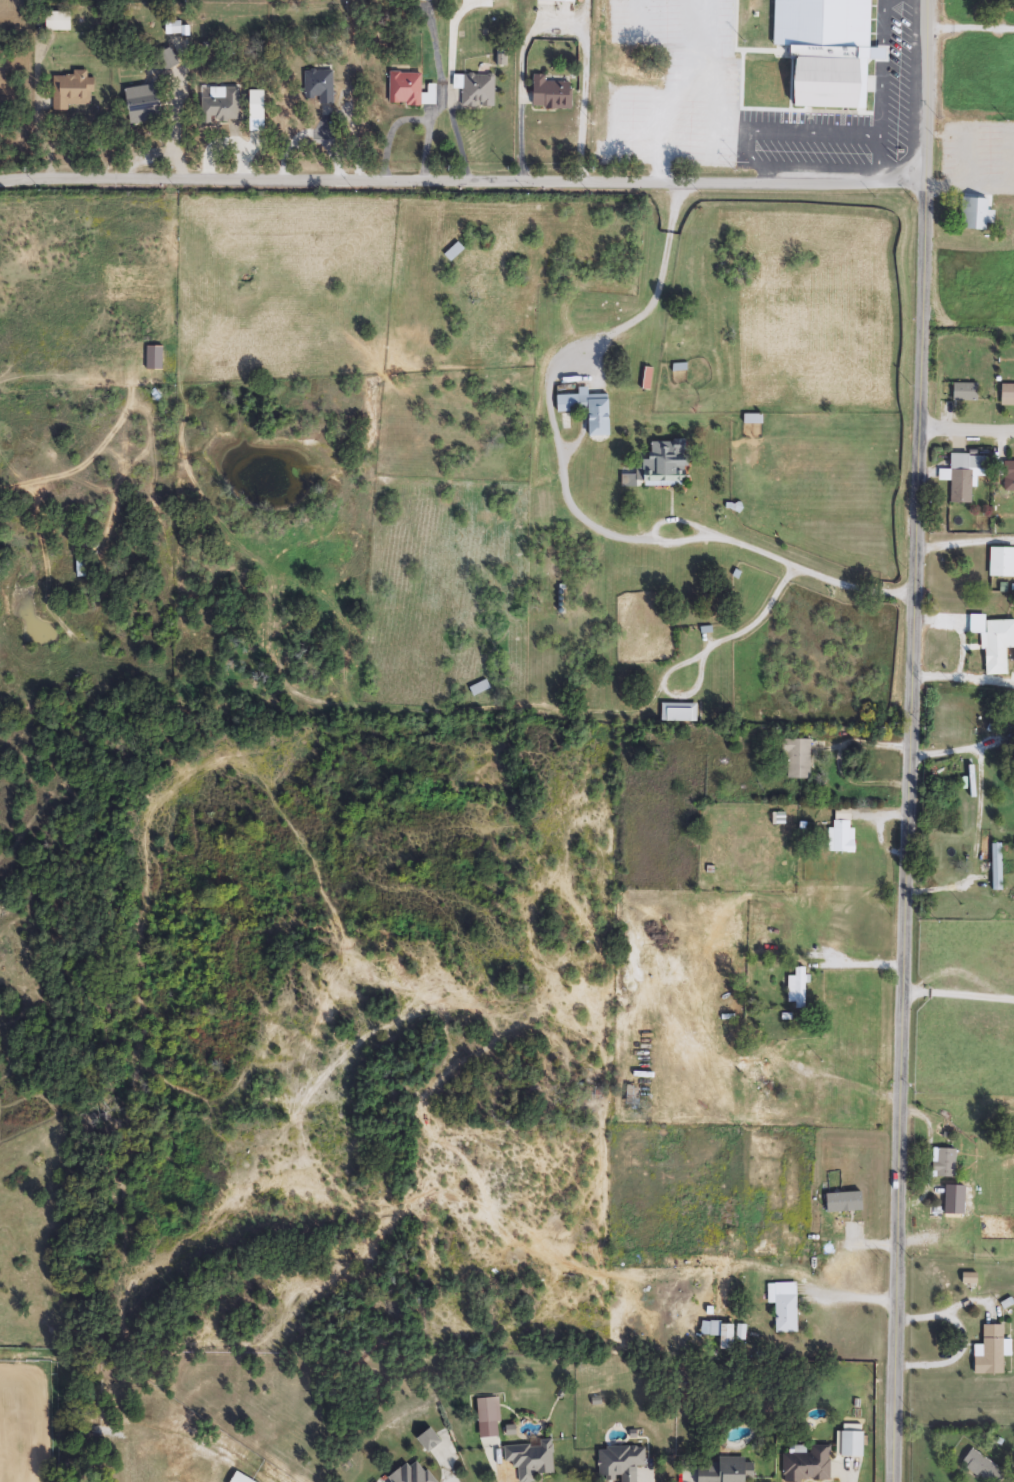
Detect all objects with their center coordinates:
building: (422, 0)
building: (565, 1)
building: (58, 22)
road: (556, 27)
road: (969, 28)
building: (824, 64)
building: (778, 75)
building: (320, 86)
road: (678, 89)
building: (409, 90)
road: (882, 90)
building: (478, 91)
building: (73, 92)
building: (551, 93)
building: (777, 100)
building: (143, 104)
building: (257, 105)
building: (222, 108)
building: (974, 127)
road: (788, 130)
road: (462, 180)
building: (974, 214)
building: (454, 252)
road: (657, 293)
building: (966, 393)
building: (1007, 395)
building: (588, 410)
road: (967, 429)
building: (659, 467)
building: (1009, 471)
building: (959, 478)
road: (711, 537)
road: (965, 543)
building: (1002, 562)
building: (81, 570)
building: (994, 643)
road: (699, 654)
road: (964, 678)
building: (480, 688)
building: (679, 713)
road: (912, 741)
building: (796, 759)
road: (979, 813)
building: (842, 837)
building: (997, 868)
building: (798, 989)
road: (960, 998)
building: (633, 1096)
building: (945, 1164)
building: (837, 1212)
building: (972, 1281)
road: (851, 1297)
building: (784, 1306)
building: (708, 1330)
building: (726, 1336)
road: (964, 1339)
building: (990, 1352)
building: (488, 1410)
building: (428, 1440)
building: (851, 1443)
building: (530, 1459)
building: (620, 1463)
building: (807, 1463)
building: (982, 1467)
building: (726, 1471)
building: (410, 1474)

